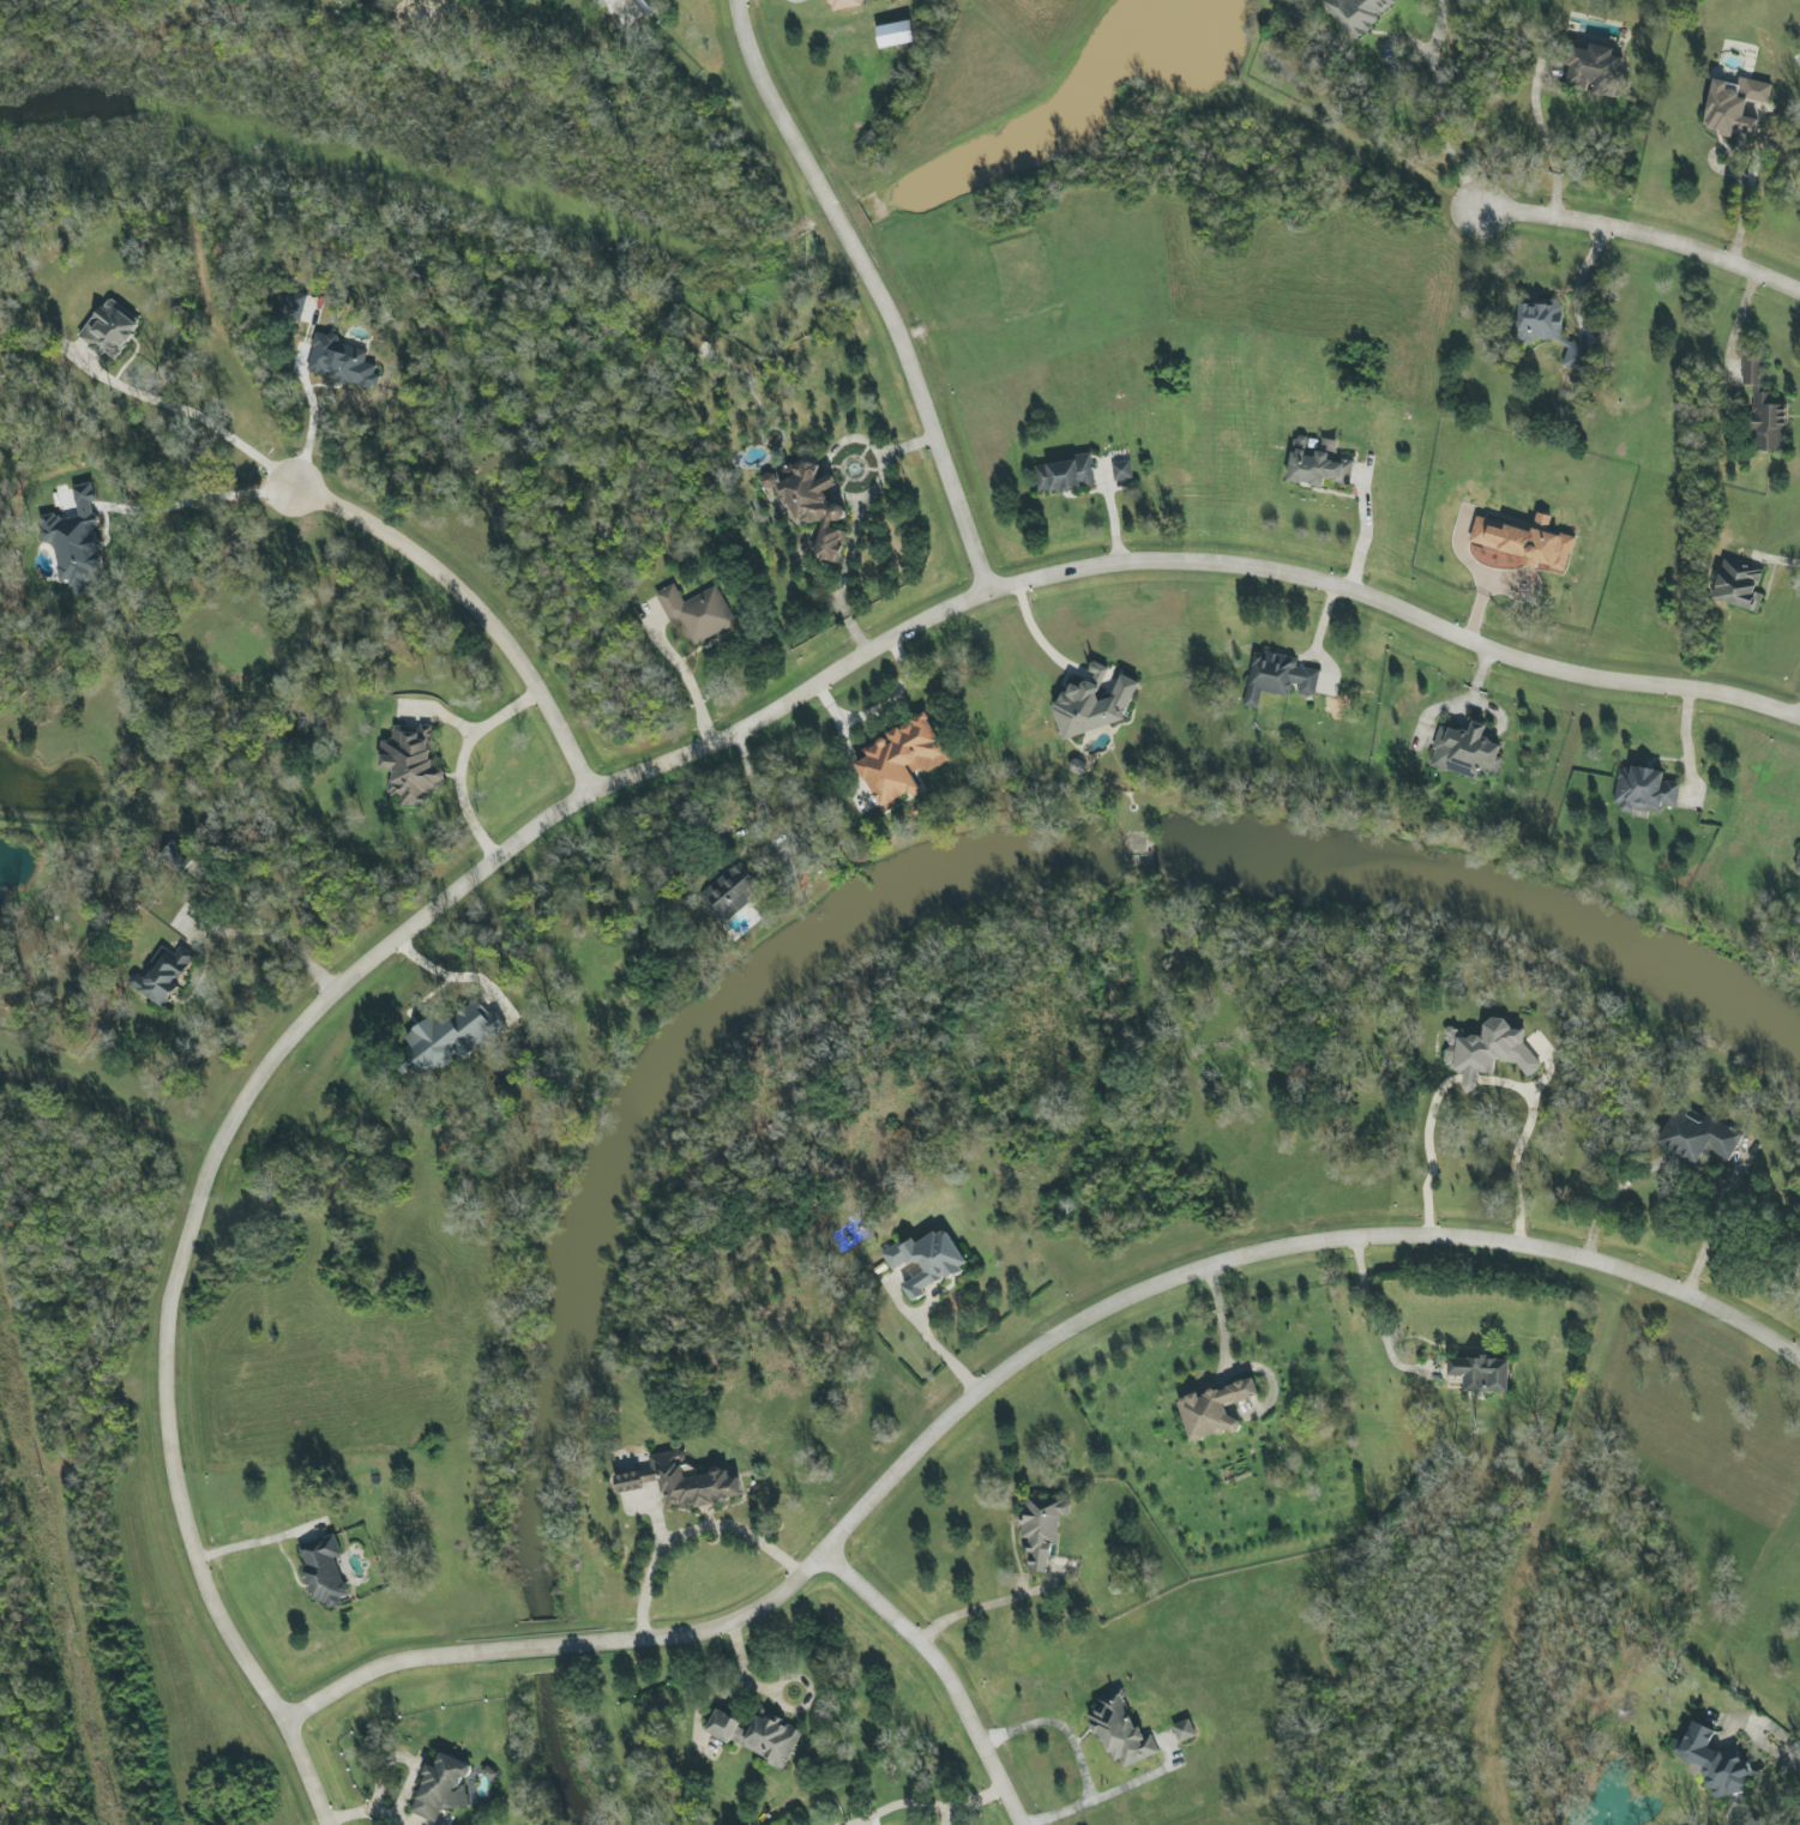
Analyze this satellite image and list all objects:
building: (844, 2)
building: (644, 7)
building: (1357, 13)
building: (895, 34)
road: (1392, 65)
building: (1594, 70)
building: (1734, 106)
road: (1435, 108)
road: (1548, 143)
road: (1739, 173)
road: (1643, 235)
road: (1578, 278)
road: (873, 288)
building: (108, 330)
building: (1576, 356)
building: (341, 362)
road: (308, 411)
building: (1762, 414)
road: (183, 418)
building: (1317, 465)
building: (1121, 471)
building: (1065, 475)
building: (765, 481)
road: (195, 502)
building: (813, 506)
road: (856, 519)
road: (1365, 530)
building: (1527, 542)
road: (1480, 578)
building: (1736, 586)
road: (471, 606)
building: (696, 613)
road: (1034, 634)
road: (1316, 639)
road: (687, 679)
building: (1277, 679)
road: (1462, 701)
building: (1092, 705)
road: (1686, 745)
building: (1465, 752)
building: (901, 760)
road: (462, 761)
building: (410, 765)
road: (608, 781)
road: (750, 784)
building: (1644, 790)
building: (1798, 869)
river: (938, 874)
building: (730, 892)
road: (267, 933)
building: (162, 976)
road: (443, 980)
building: (451, 1037)
building: (1487, 1052)
road: (1486, 1079)
building: (1700, 1137)
road: (1684, 1167)
building: (926, 1261)
road: (1217, 1315)
road: (1369, 1319)
road: (928, 1341)
road: (1010, 1366)
building: (1481, 1375)
building: (1214, 1411)
building: (628, 1481)
building: (690, 1482)
building: (1041, 1529)
road: (688, 1534)
road: (255, 1537)
building: (323, 1571)
road: (986, 1600)
river: (543, 1645)
road: (742, 1673)
road: (941, 1673)
building: (1184, 1730)
building: (1121, 1731)
building: (755, 1735)
river: (567, 1748)
road: (1083, 1748)
road: (1777, 1751)
building: (1712, 1760)
building: (440, 1788)
road: (974, 1800)
road: (901, 1803)
road: (944, 1818)

